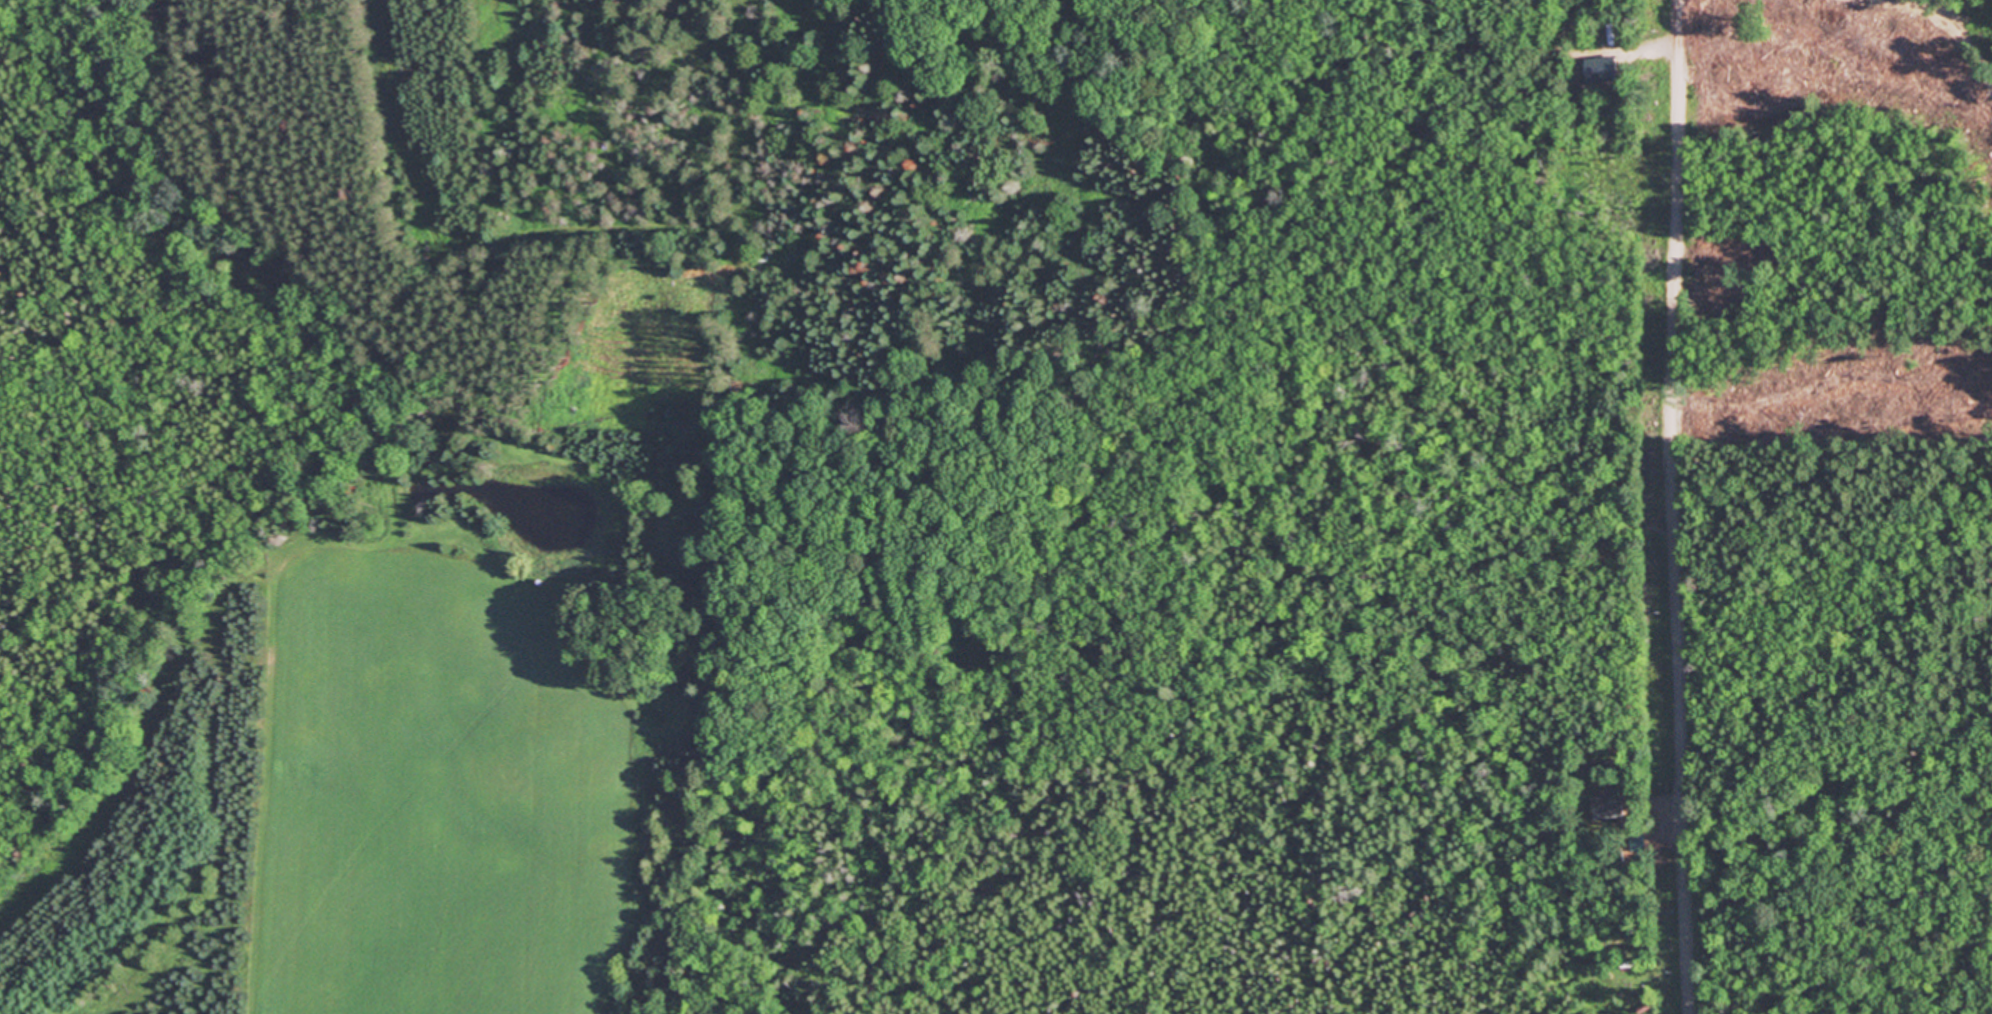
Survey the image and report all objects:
road: (1671, 507)
building: (1612, 805)

